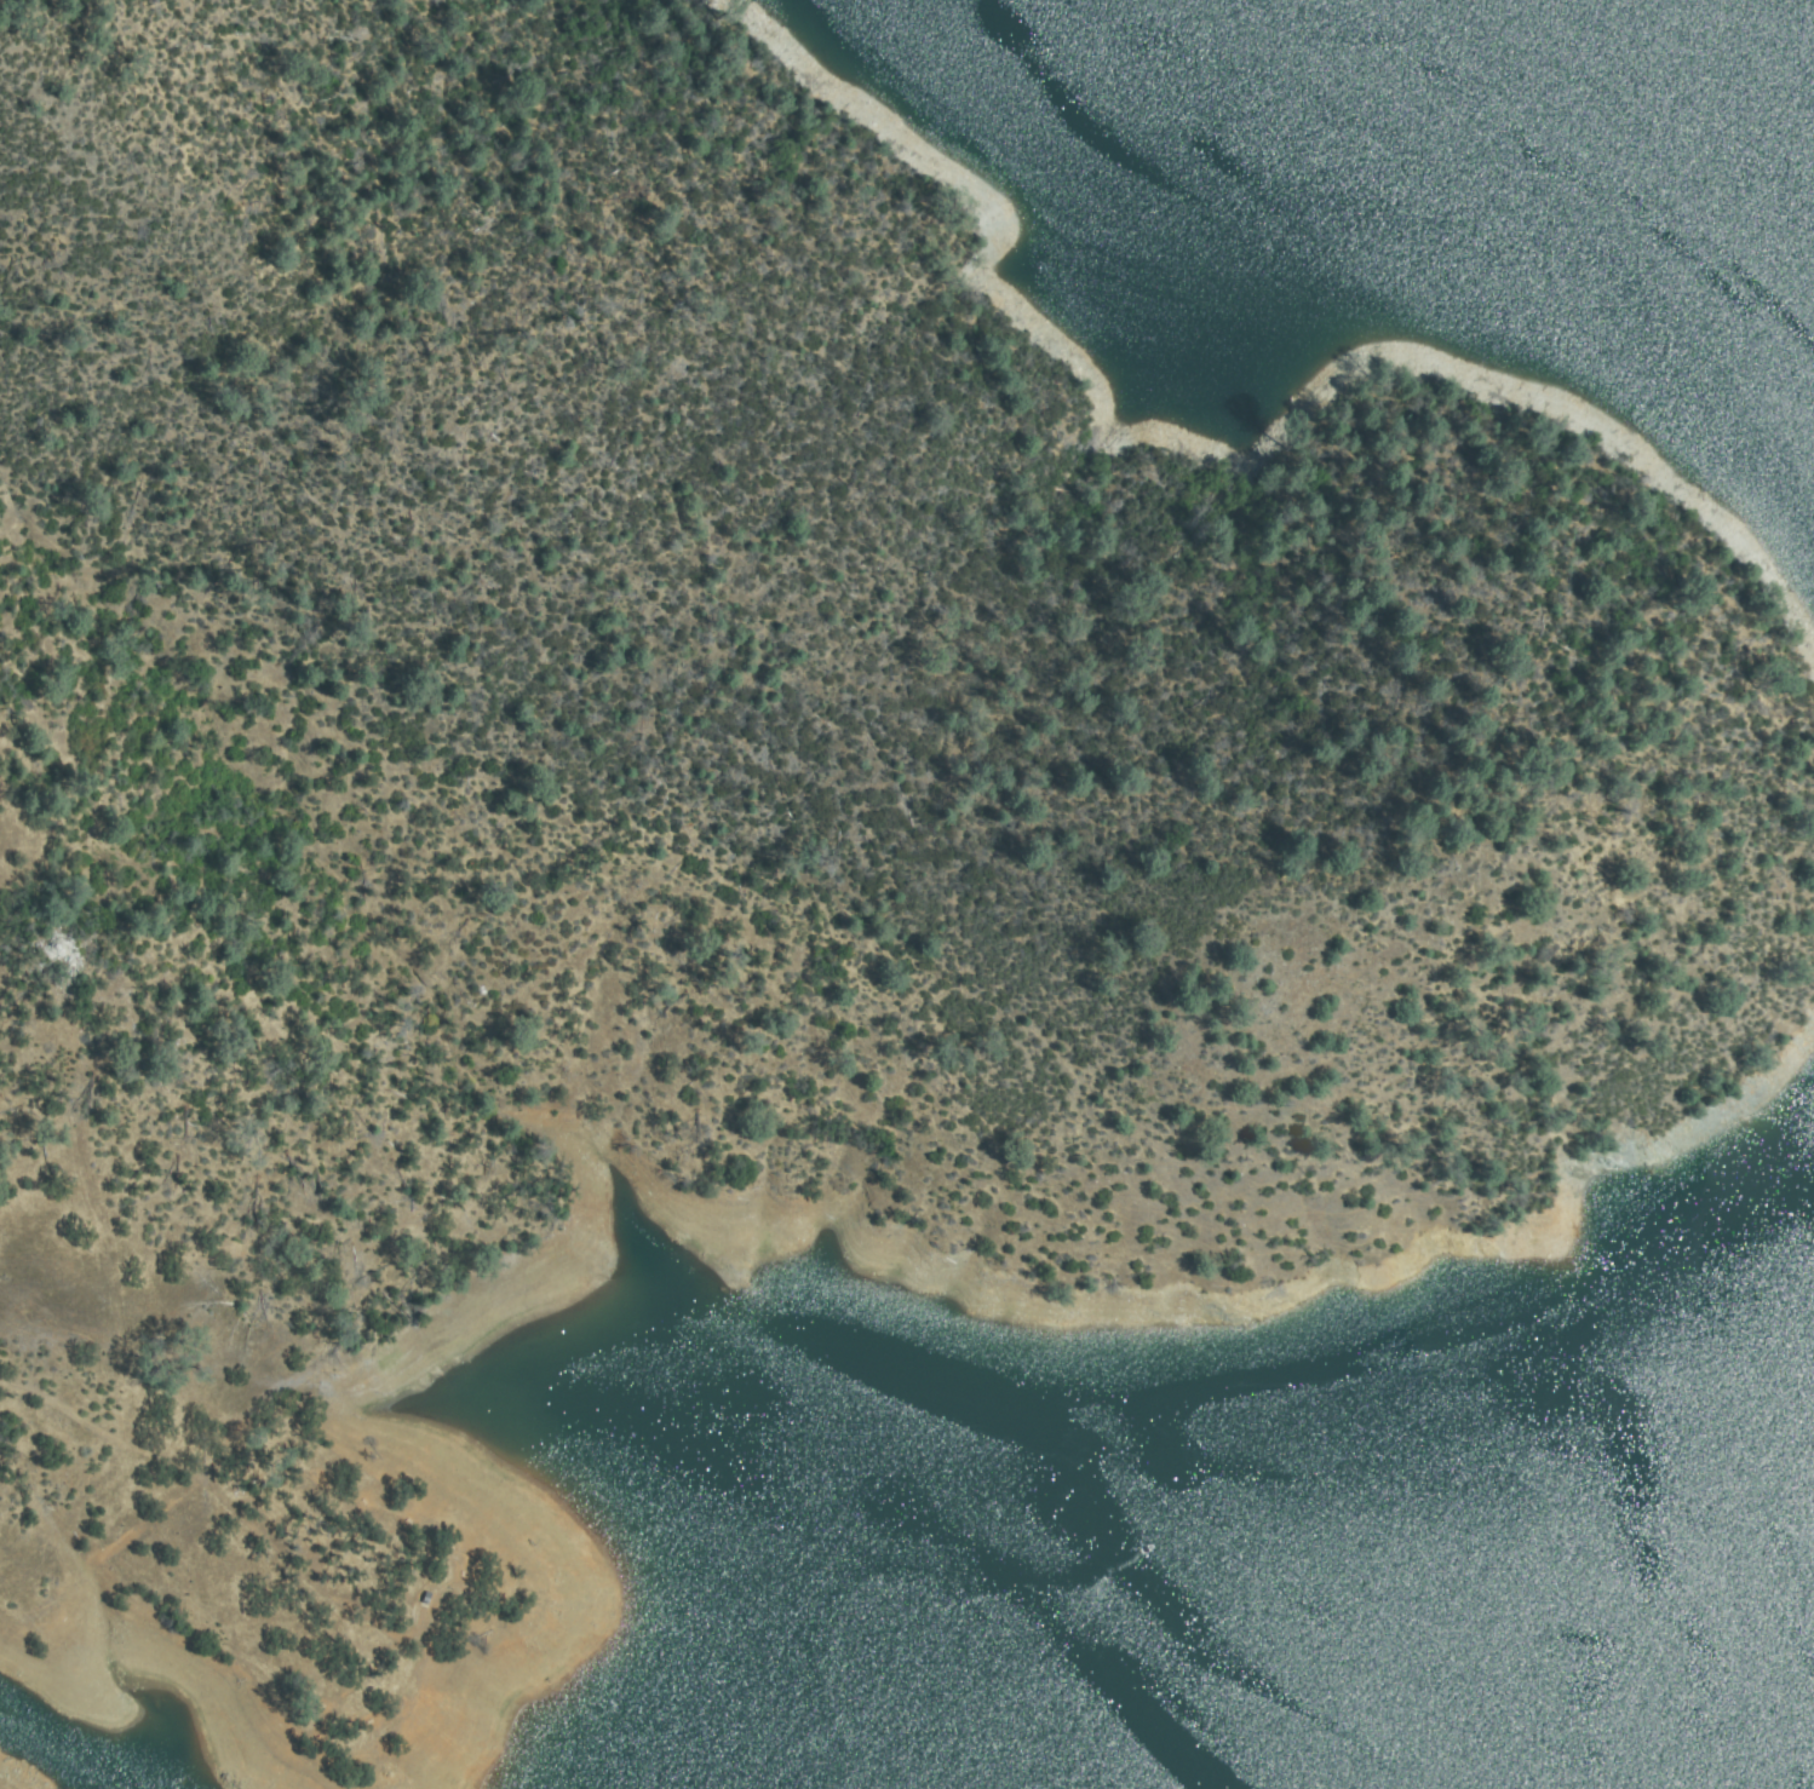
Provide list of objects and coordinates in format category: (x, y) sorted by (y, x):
road: (78, 1410)

